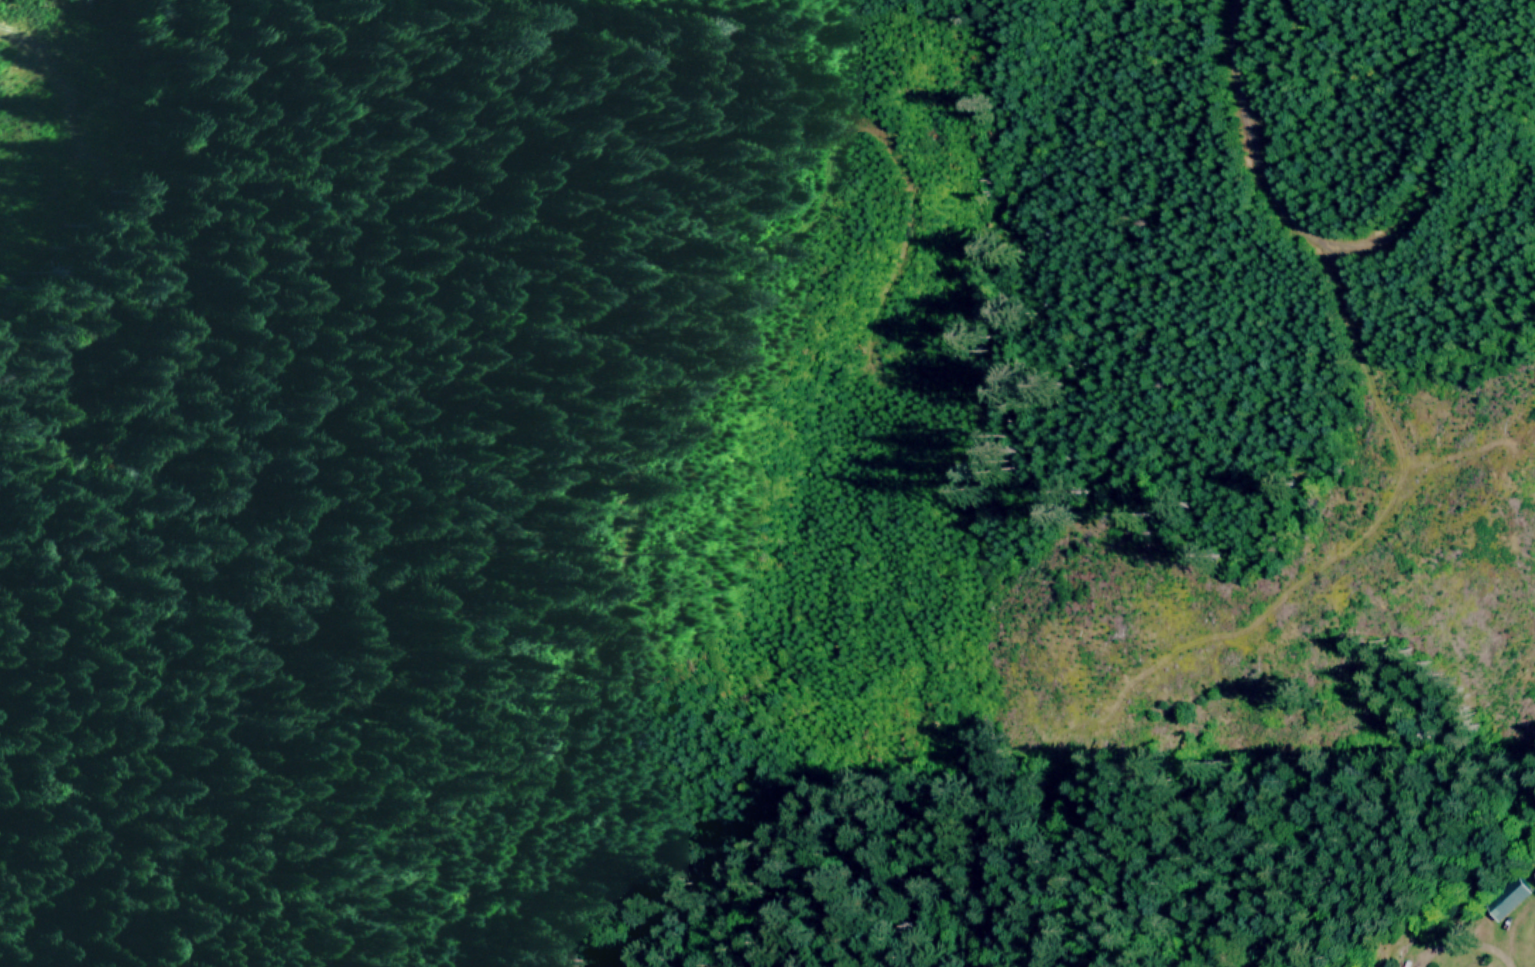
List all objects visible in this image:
building: (1534, 871)
building: (1508, 897)
road: (1463, 943)

